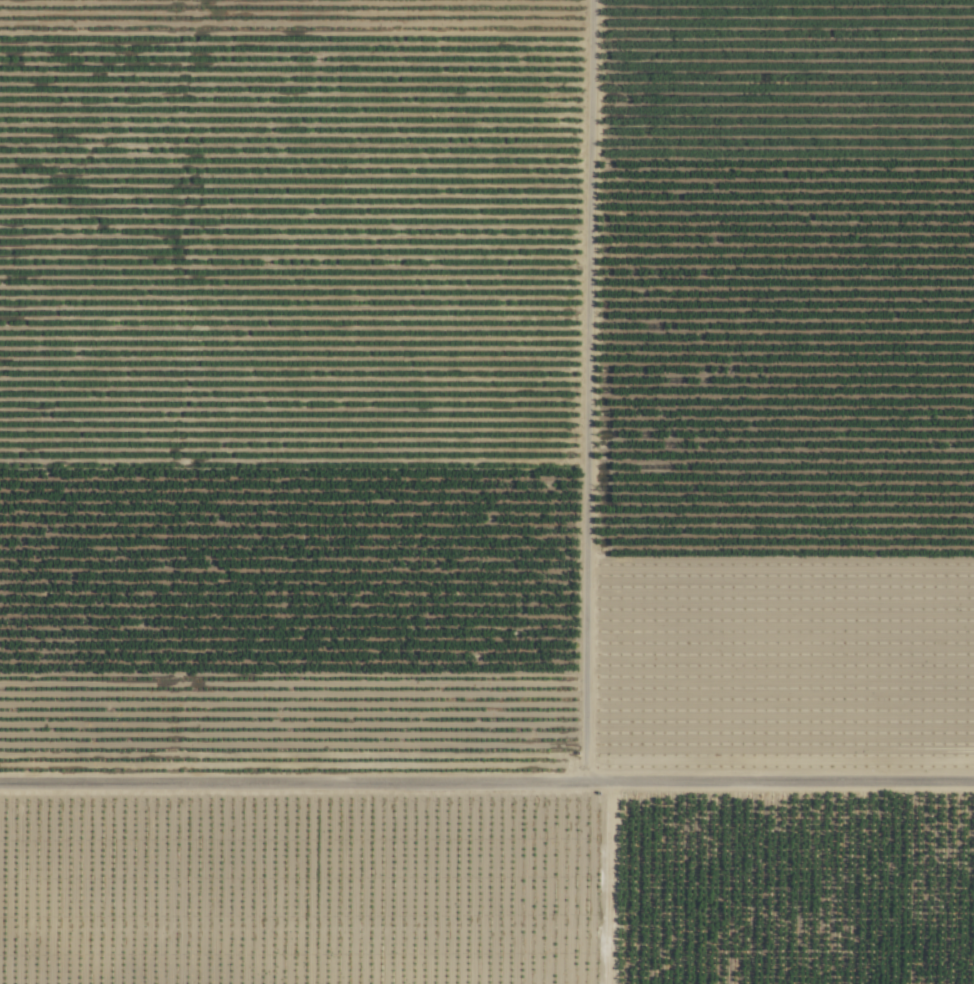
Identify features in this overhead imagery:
crop: (487, 492)
road: (487, 785)

